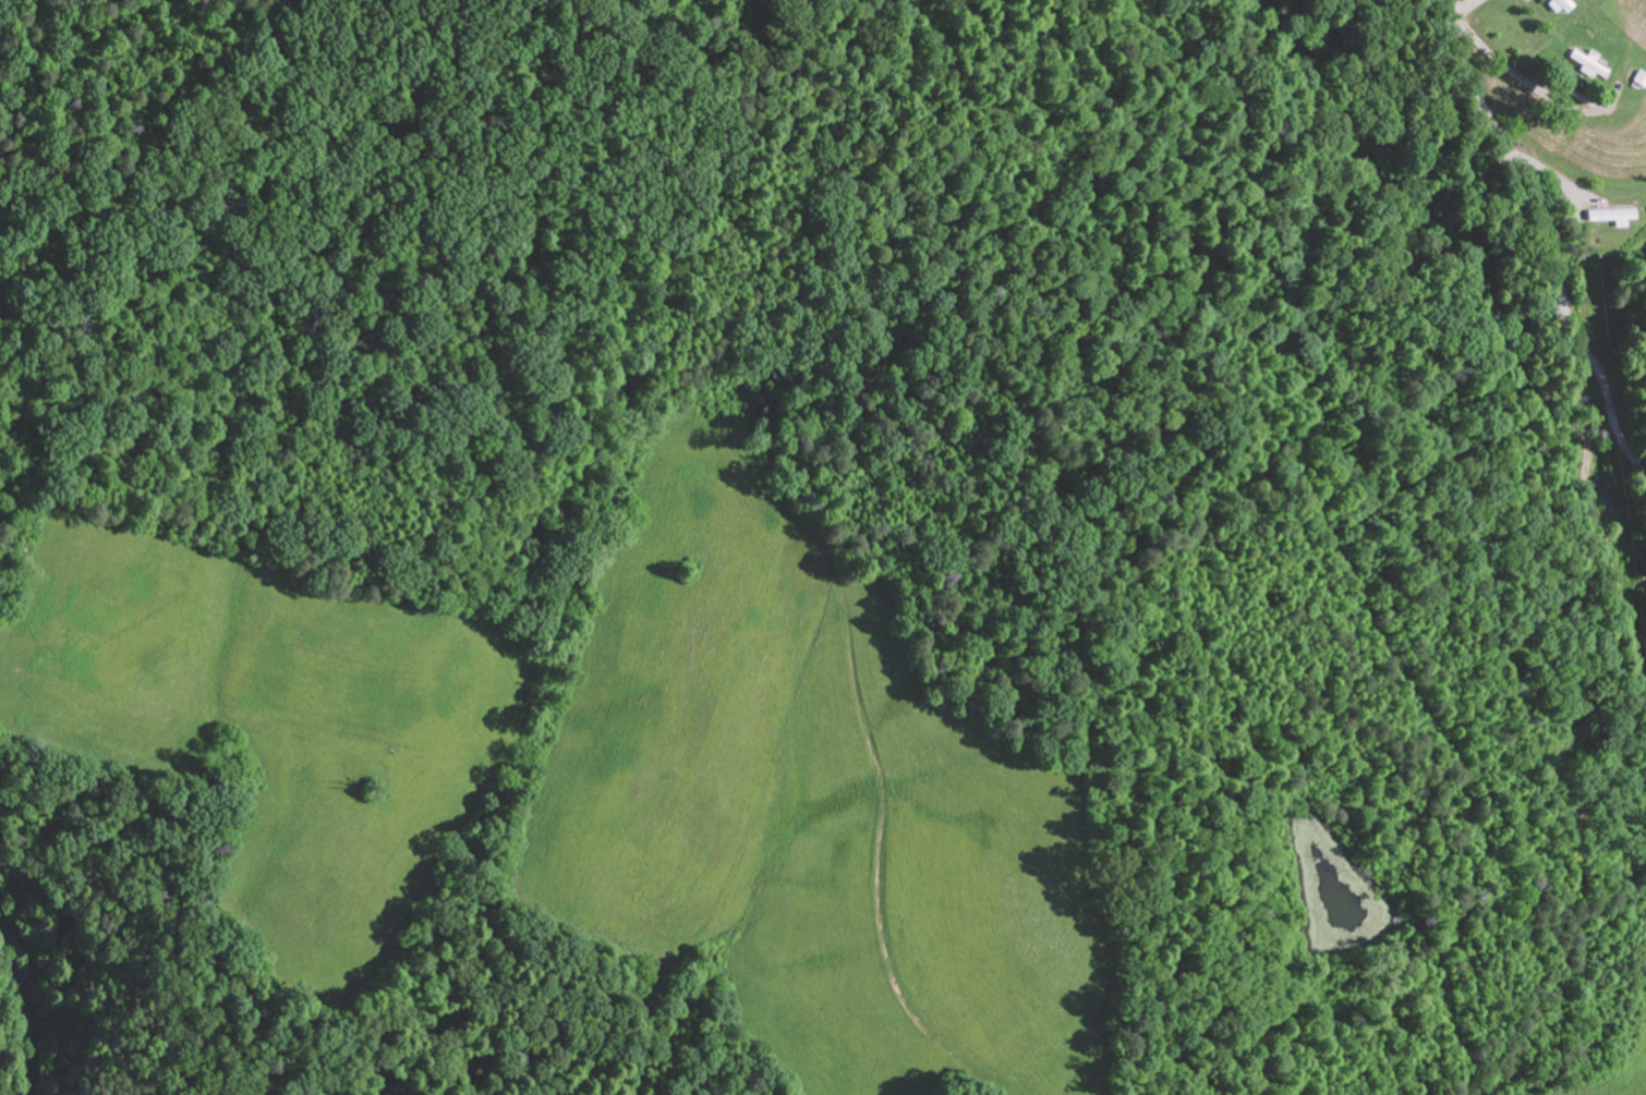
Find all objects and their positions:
road: (1452, 11)
building: (1588, 63)
road: (1573, 109)
building: (1608, 214)
road: (1577, 350)
road: (1613, 398)

